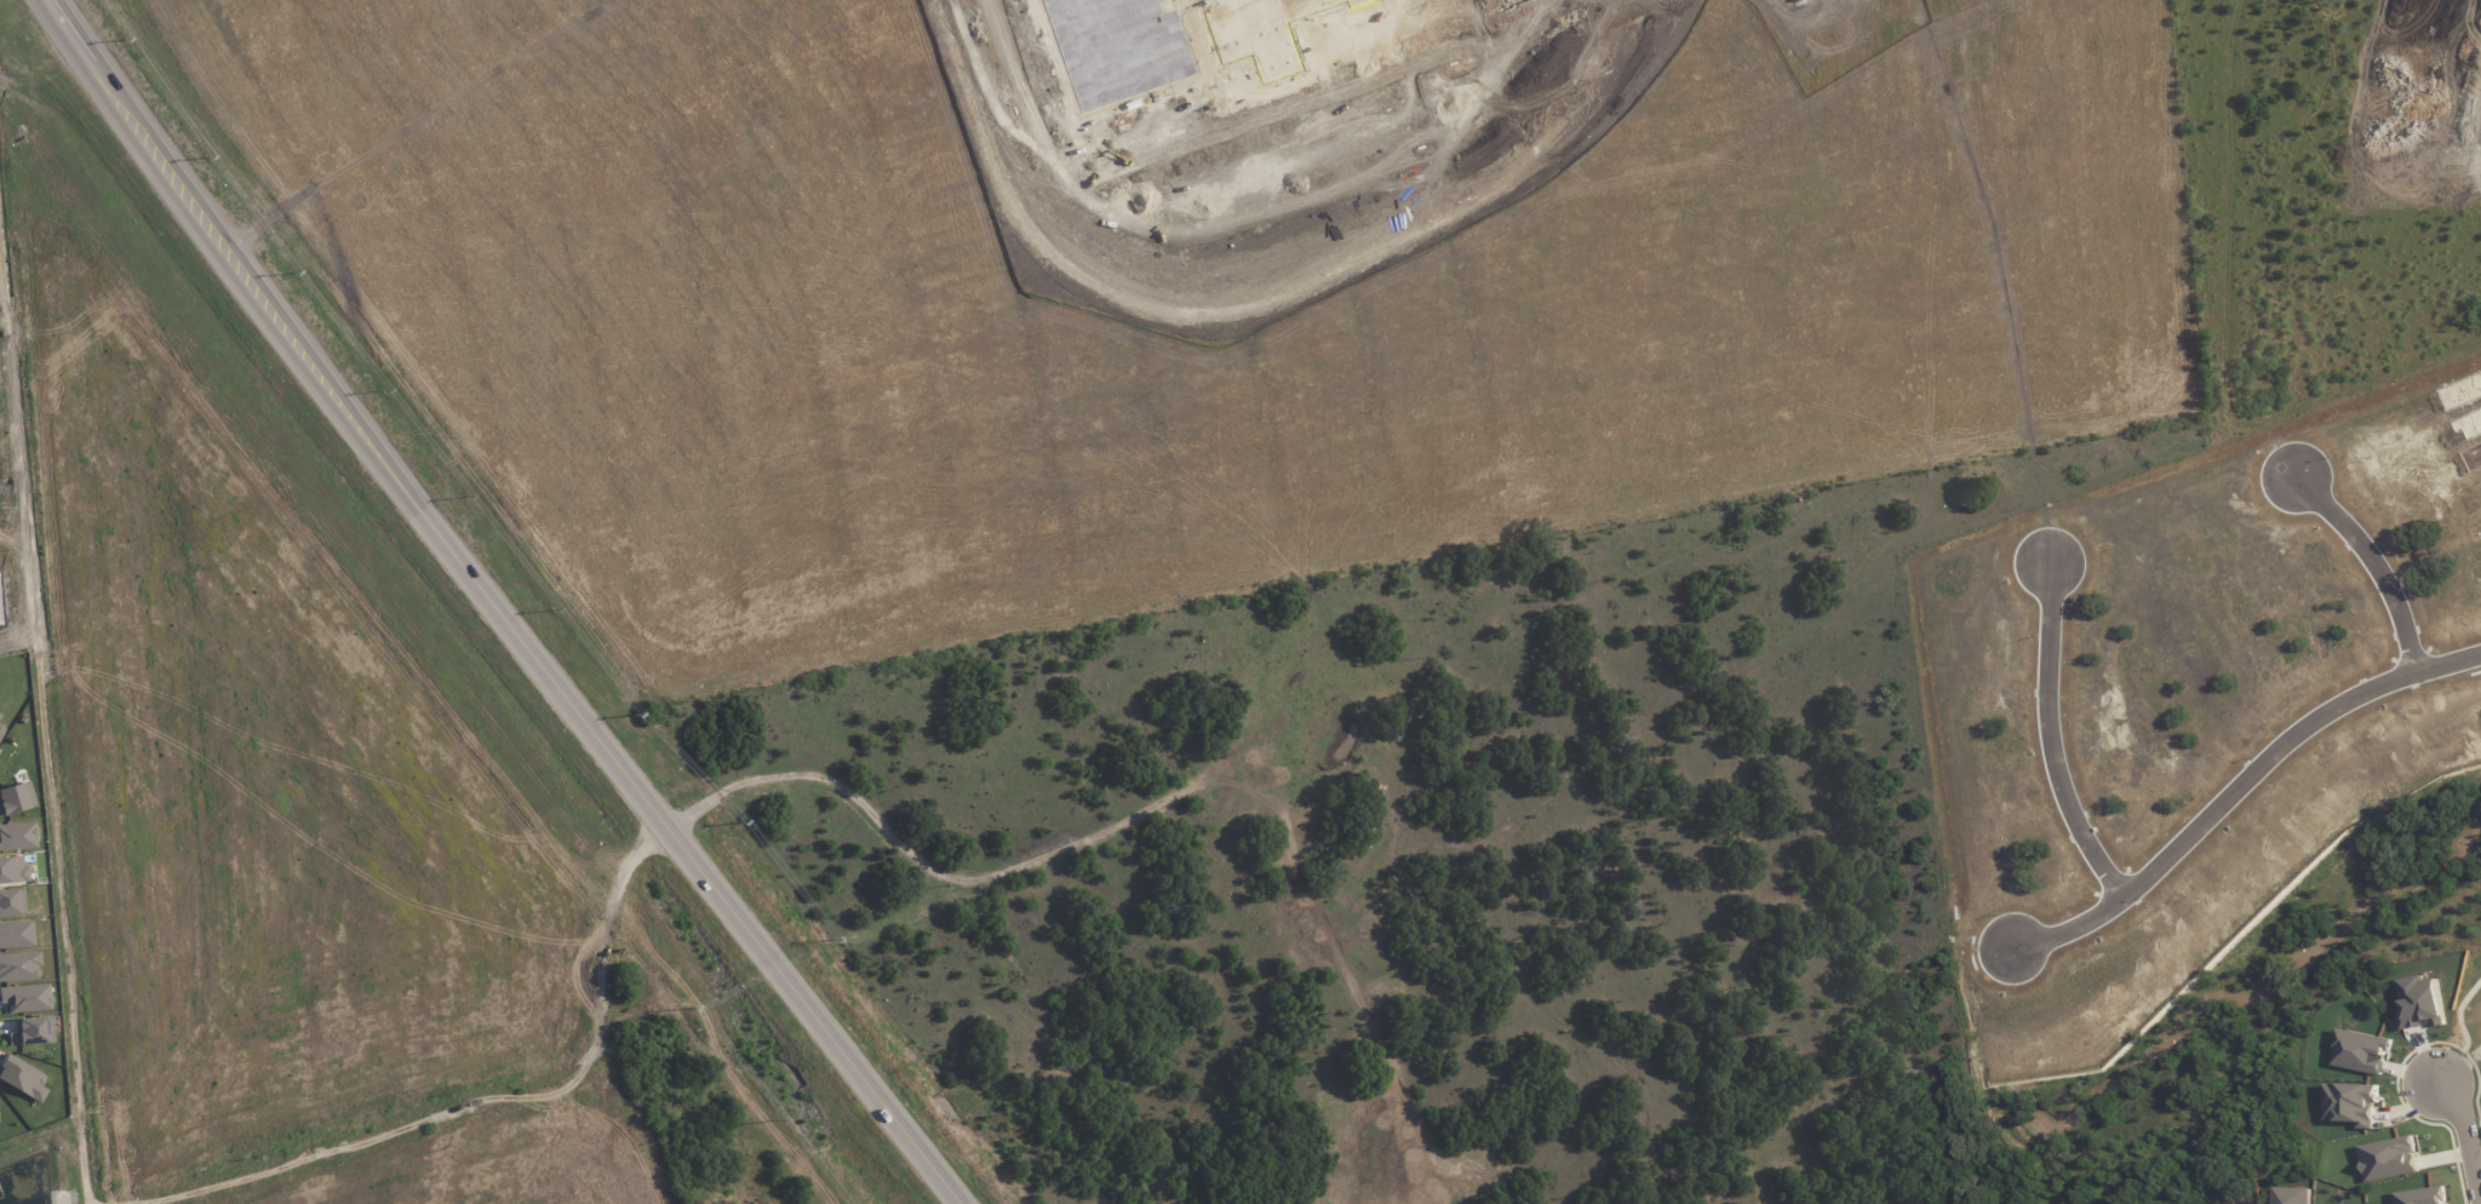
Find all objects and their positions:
building: (1186, 40)
road: (2216, 59)
road: (1335, 85)
road: (1227, 211)
road: (2073, 348)
road: (2376, 546)
road: (499, 606)
building: (0, 716)
road: (2056, 722)
building: (1, 729)
road: (2241, 773)
building: (16, 798)
building: (18, 836)
building: (12, 868)
building: (12, 902)
building: (16, 934)
building: (19, 967)
building: (25, 997)
building: (31, 1031)
building: (22, 1078)
road: (2465, 1141)
building: (2290, 1196)

